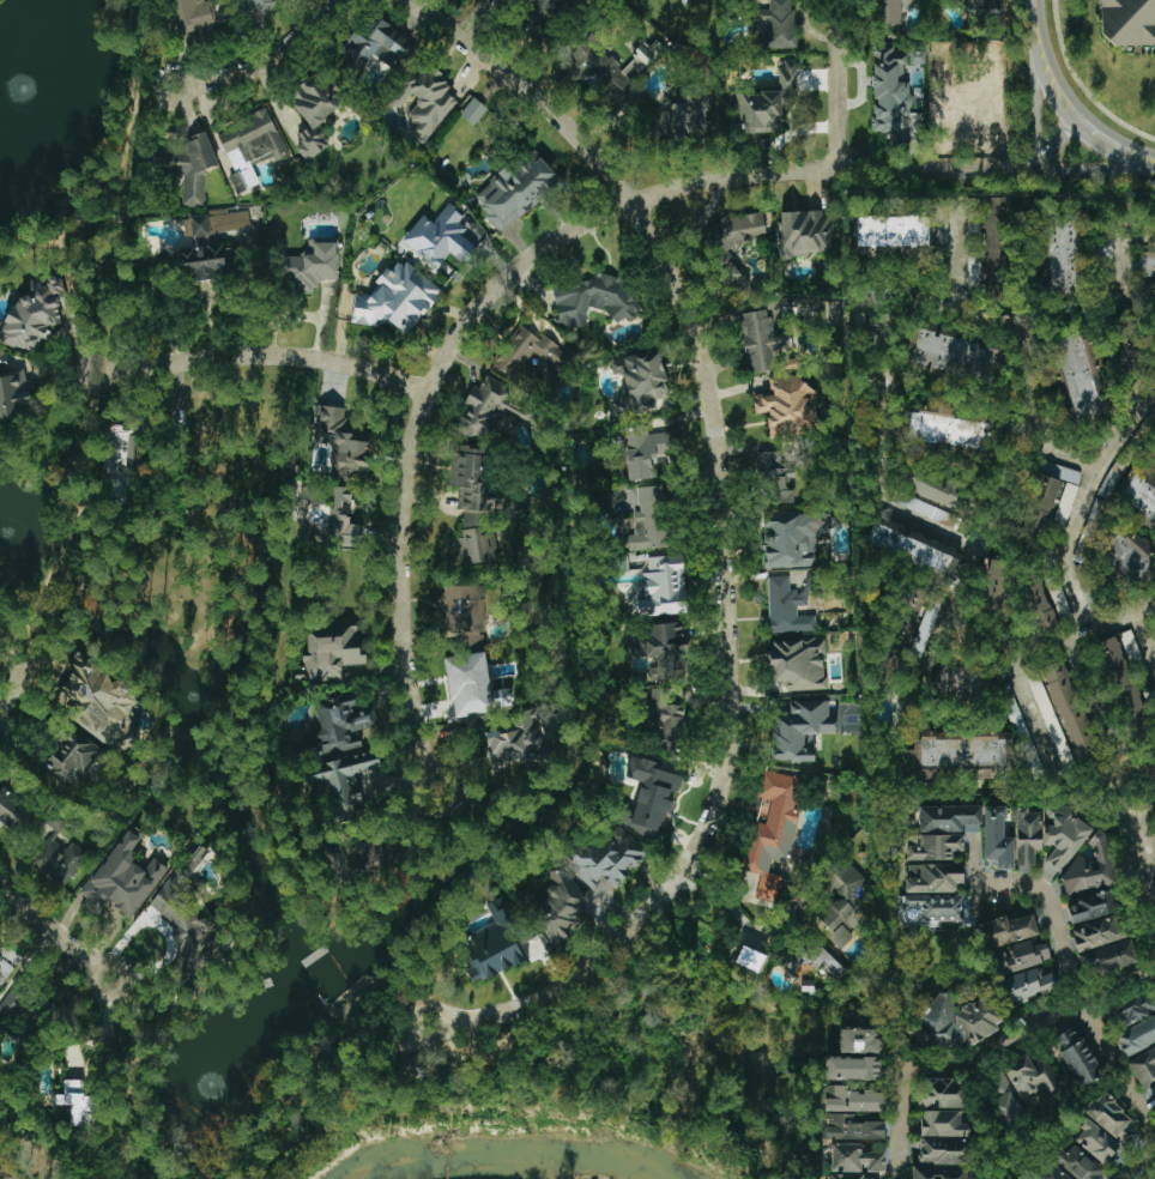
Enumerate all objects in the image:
building: (259, 6)
building: (984, 8)
road: (1038, 8)
building: (890, 11)
building: (539, 14)
building: (192, 16)
road: (474, 19)
building: (1127, 22)
building: (778, 24)
building: (373, 48)
road: (266, 56)
building: (917, 56)
building: (607, 66)
road: (1050, 72)
road: (186, 79)
road: (837, 84)
building: (889, 87)
road: (1036, 92)
building: (424, 101)
building: (764, 103)
building: (473, 111)
building: (313, 113)
building: (955, 113)
building: (681, 116)
road: (1099, 137)
building: (249, 147)
road: (1138, 156)
building: (183, 165)
road: (1094, 167)
building: (516, 189)
building: (229, 220)
building: (896, 231)
building: (804, 234)
building: (443, 237)
building: (974, 242)
building: (997, 246)
building: (1062, 252)
building: (202, 254)
building: (722, 256)
road: (533, 258)
road: (1127, 258)
building: (1144, 264)
building: (313, 266)
building: (397, 300)
building: (593, 301)
building: (32, 313)
road: (877, 334)
building: (758, 341)
road: (1017, 344)
road: (270, 355)
building: (953, 355)
building: (530, 356)
building: (1082, 375)
road: (108, 382)
building: (640, 382)
road: (961, 387)
building: (13, 389)
building: (787, 407)
building: (486, 409)
building: (947, 427)
building: (344, 443)
building: (643, 451)
building: (119, 460)
road: (972, 482)
building: (935, 486)
building: (1138, 498)
building: (473, 504)
building: (920, 507)
building: (1040, 507)
building: (326, 515)
building: (649, 519)
road: (724, 528)
building: (792, 538)
building: (914, 549)
building: (1127, 554)
road: (1071, 580)
building: (994, 584)
building: (664, 587)
building: (1036, 601)
building: (787, 607)
road: (1032, 610)
building: (914, 621)
road: (1106, 622)
building: (666, 651)
building: (329, 652)
road: (945, 659)
building: (798, 664)
road: (16, 682)
building: (472, 685)
building: (1124, 688)
road: (937, 689)
building: (102, 703)
building: (1069, 712)
building: (664, 719)
building: (1050, 719)
building: (341, 722)
building: (800, 730)
building: (514, 739)
building: (962, 754)
building: (73, 757)
building: (349, 784)
building: (648, 796)
building: (12, 806)
building: (773, 830)
building: (942, 832)
building: (1048, 835)
building: (997, 838)
road: (1139, 851)
building: (376, 857)
road: (1148, 857)
building: (59, 860)
building: (606, 860)
building: (1089, 869)
building: (933, 877)
building: (122, 879)
road: (1048, 897)
road: (727, 902)
building: (842, 902)
building: (560, 907)
building: (1091, 907)
building: (931, 908)
building: (1008, 930)
building: (1097, 932)
road: (55, 935)
building: (497, 941)
building: (1020, 956)
building: (1108, 957)
building: (750, 959)
building: (1028, 985)
road: (1118, 990)
building: (1132, 1008)
building: (975, 1021)
building: (937, 1022)
road: (1038, 1029)
road: (109, 1032)
road: (443, 1033)
building: (1136, 1036)
building: (859, 1041)
building: (1077, 1057)
building: (852, 1068)
building: (1144, 1069)
building: (1032, 1077)
building: (942, 1093)
building: (852, 1099)
building: (1003, 1100)
building: (80, 1106)
building: (853, 1127)
building: (944, 1138)
building: (1096, 1142)
river: (498, 1154)
building: (857, 1159)
building: (1077, 1163)
building: (941, 1172)
building: (1052, 1173)
building: (851, 1177)

